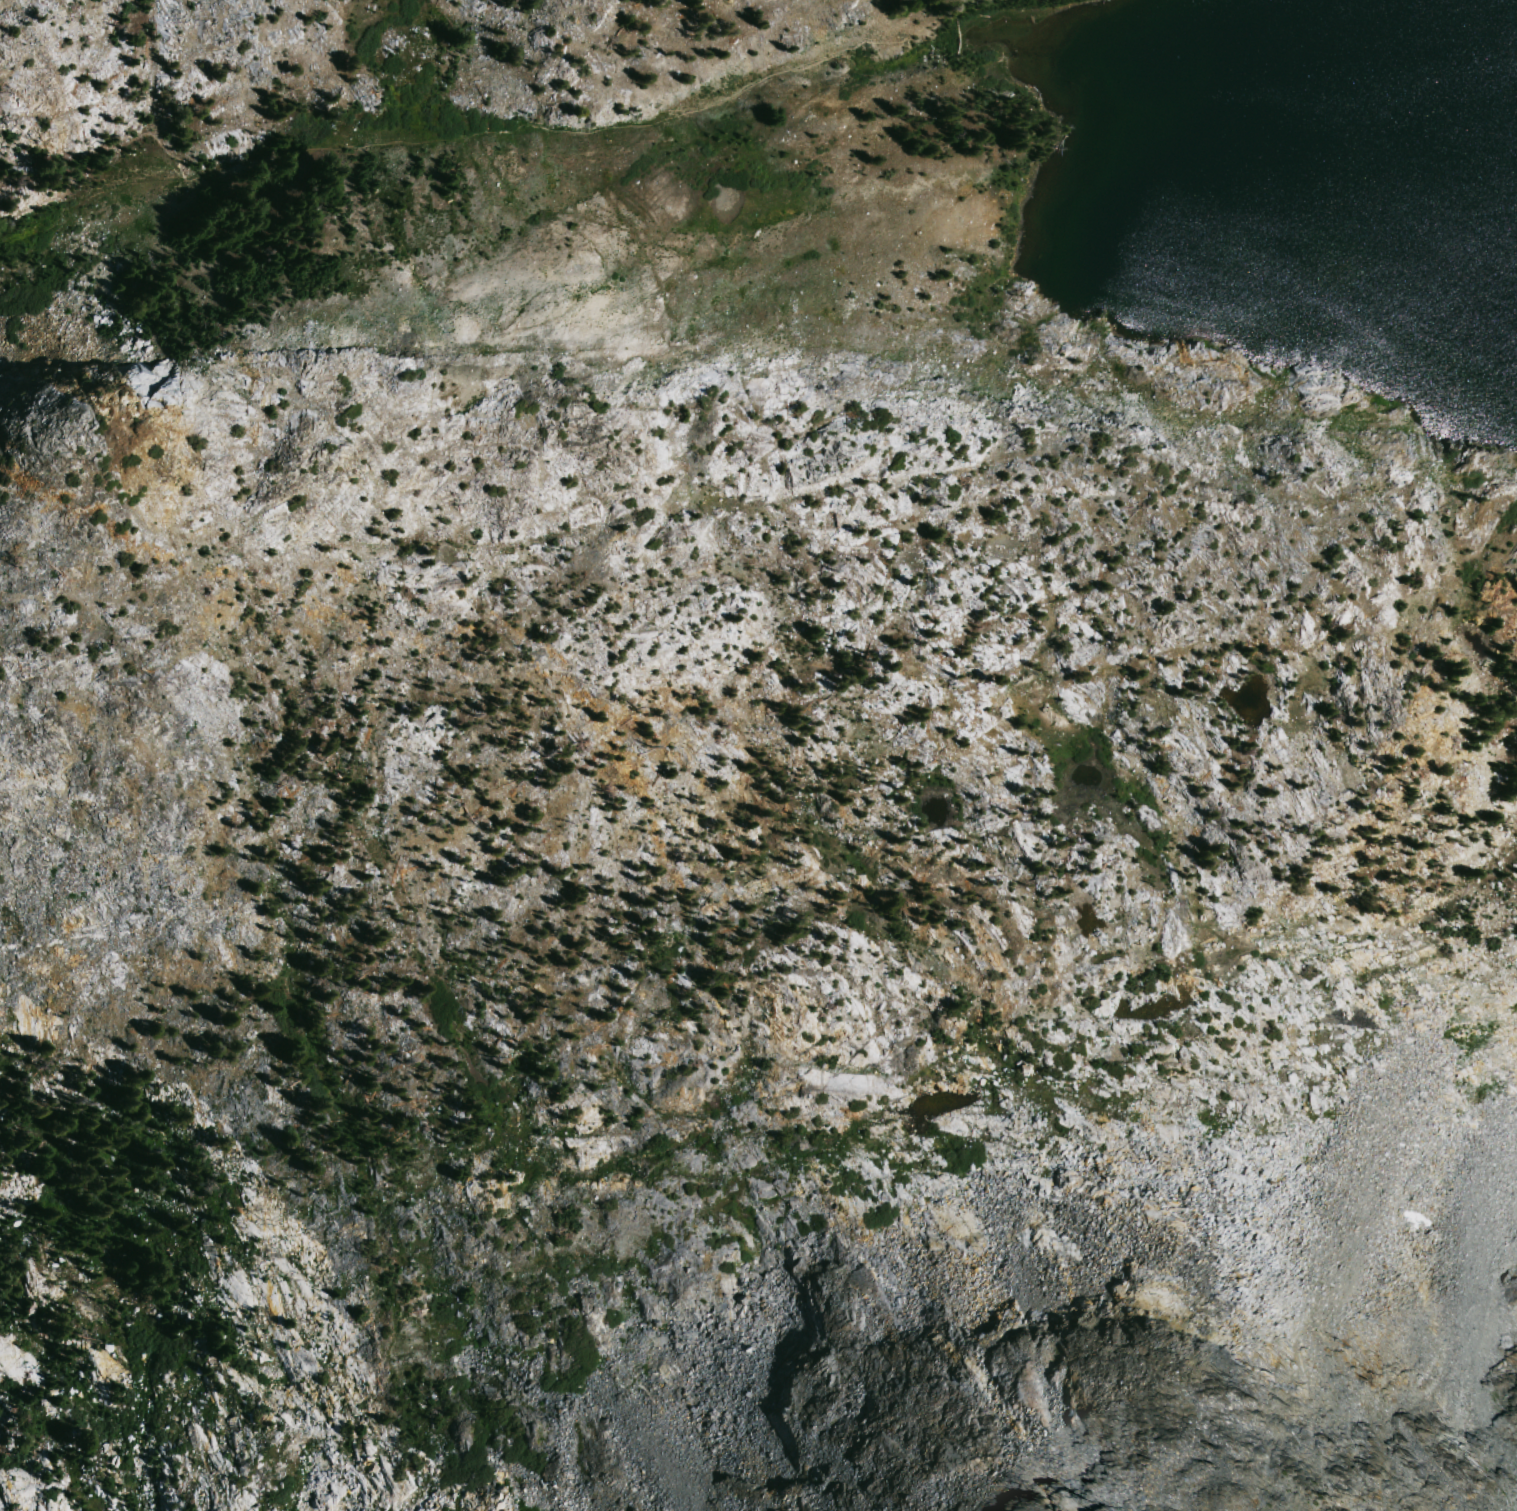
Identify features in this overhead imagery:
road: (493, 130)

